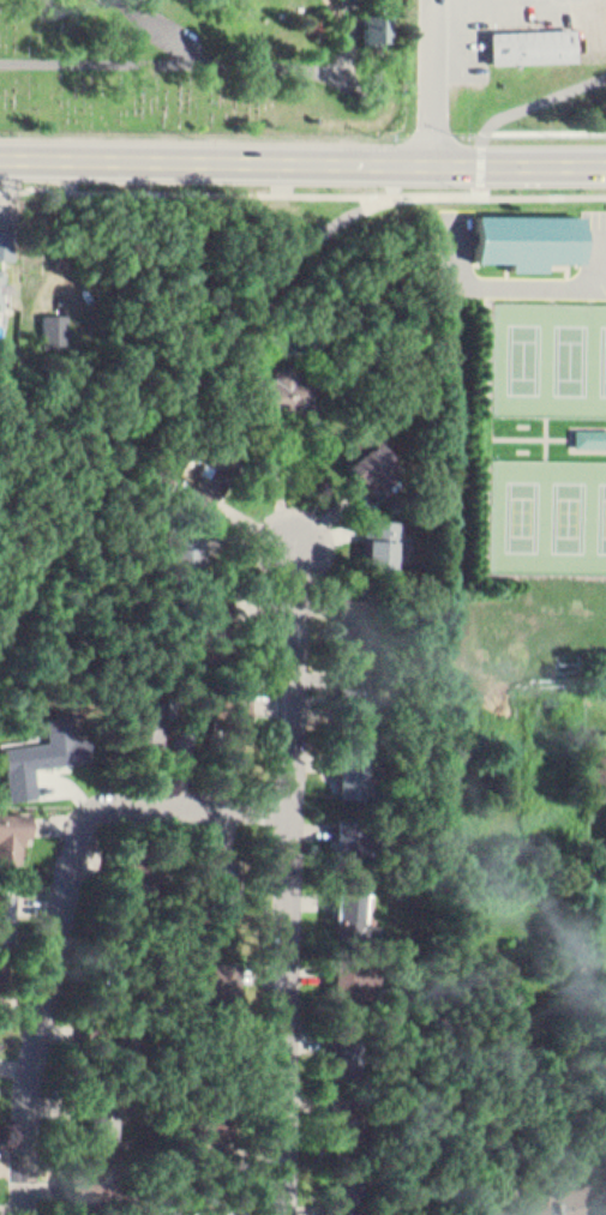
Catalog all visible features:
building: (354, 2)
building: (378, 25)
building: (529, 38)
road: (143, 60)
park: (211, 68)
road: (438, 78)
road: (527, 104)
road: (542, 125)
road: (302, 156)
road: (191, 184)
road: (542, 188)
parking lot: (596, 228)
building: (524, 234)
building: (7, 235)
building: (6, 281)
building: (55, 323)
park: (548, 350)
road: (212, 351)
building: (287, 385)
road: (547, 427)
building: (589, 428)
road: (548, 431)
building: (590, 439)
road: (64, 445)
building: (372, 452)
building: (209, 467)
park: (547, 505)
building: (384, 537)
building: (185, 559)
street lamp: (286, 606)
building: (211, 615)
building: (355, 620)
building: (356, 690)
building: (230, 703)
building: (150, 720)
building: (60, 733)
building: (599, 759)
building: (356, 765)
street lamp: (283, 784)
street lamp: (120, 787)
building: (11, 830)
building: (353, 832)
building: (605, 850)
building: (131, 859)
road: (296, 876)
building: (226, 885)
building: (350, 900)
road: (64, 907)
building: (6, 912)
street lamp: (91, 930)
building: (126, 950)
building: (352, 969)
building: (371, 970)
building: (2, 972)
building: (221, 978)
building: (192, 1029)
building: (100, 1031)
building: (348, 1049)
building: (197, 1079)
street lamp: (49, 1081)
building: (346, 1113)
building: (96, 1114)
building: (193, 1141)
building: (85, 1181)
building: (347, 1186)
building: (554, 1197)
building: (242, 1207)

